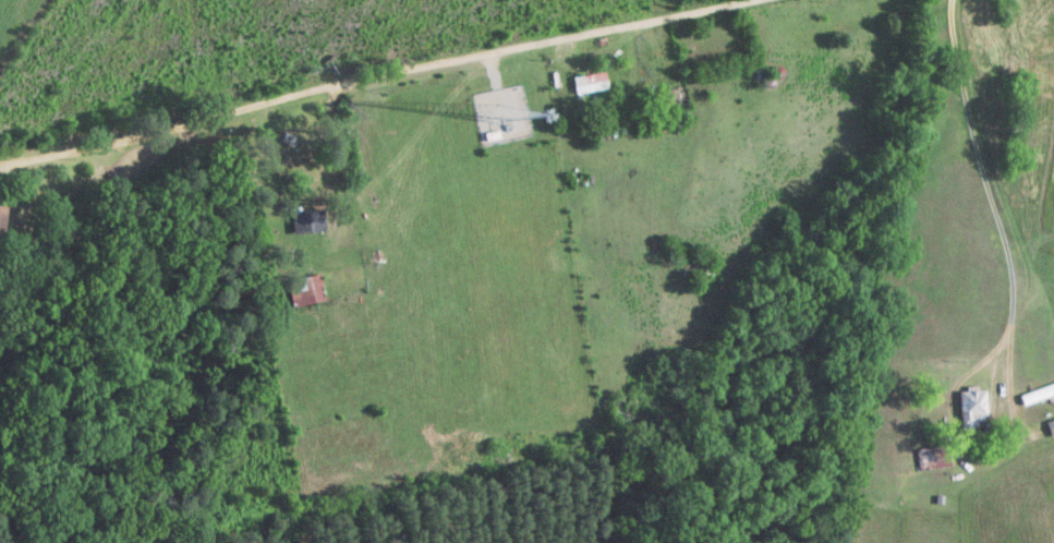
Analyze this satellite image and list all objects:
building: (771, 74)
building: (587, 84)
building: (282, 148)
building: (0, 208)
building: (306, 222)
road: (513, 285)
building: (306, 291)
road: (705, 391)
building: (1037, 396)
building: (973, 410)

